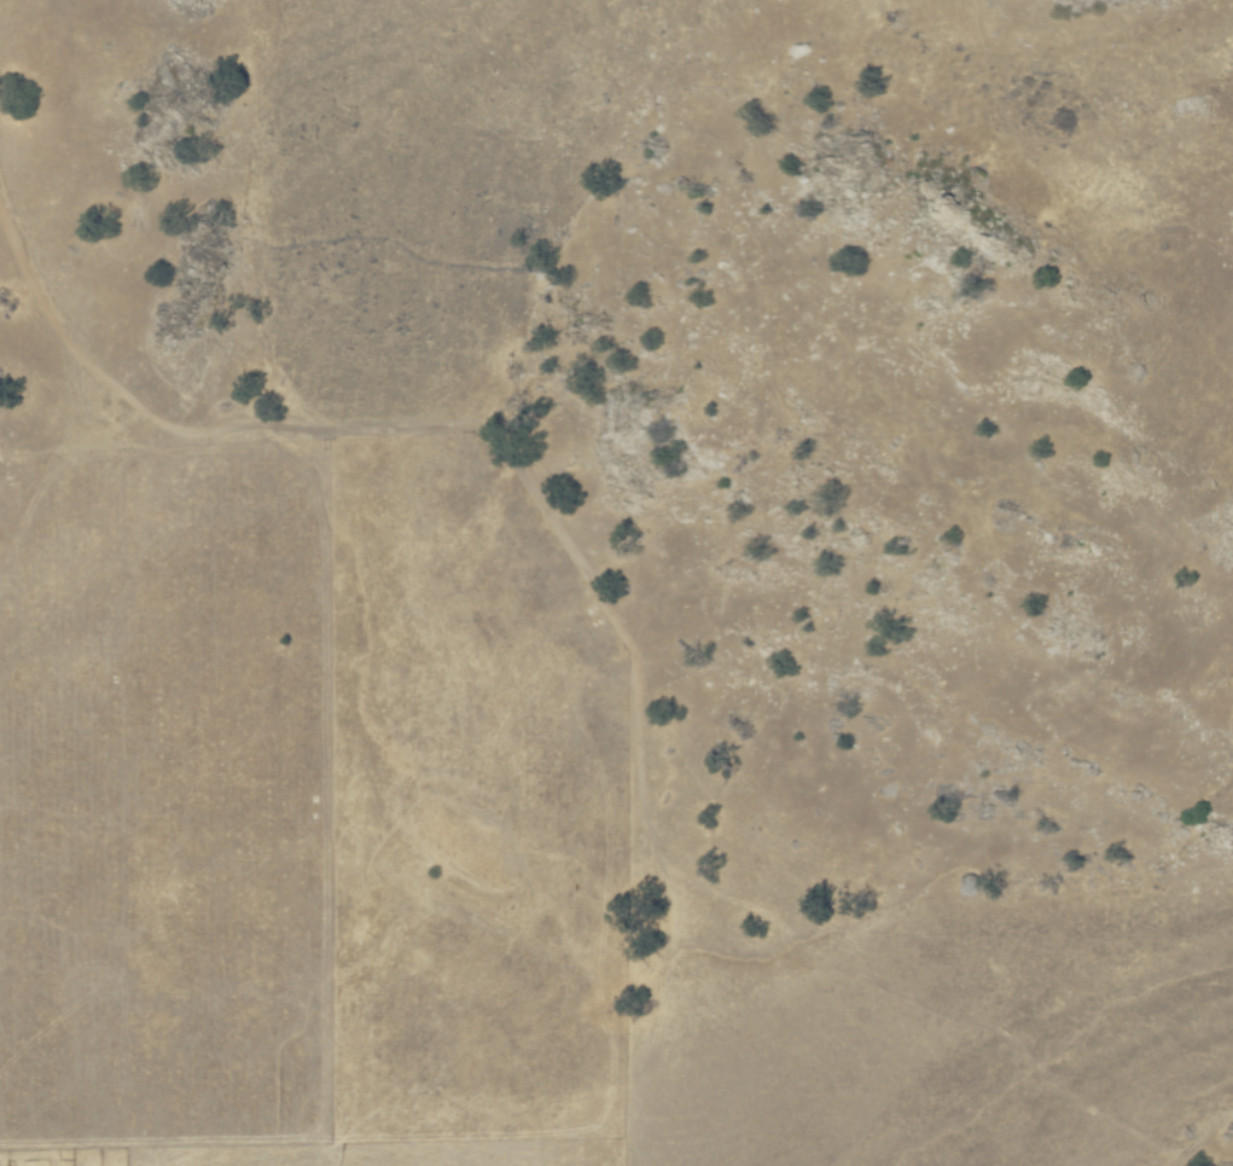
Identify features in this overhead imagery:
road: (547, 498)
crop: (638, 834)
road: (1208, 1137)

